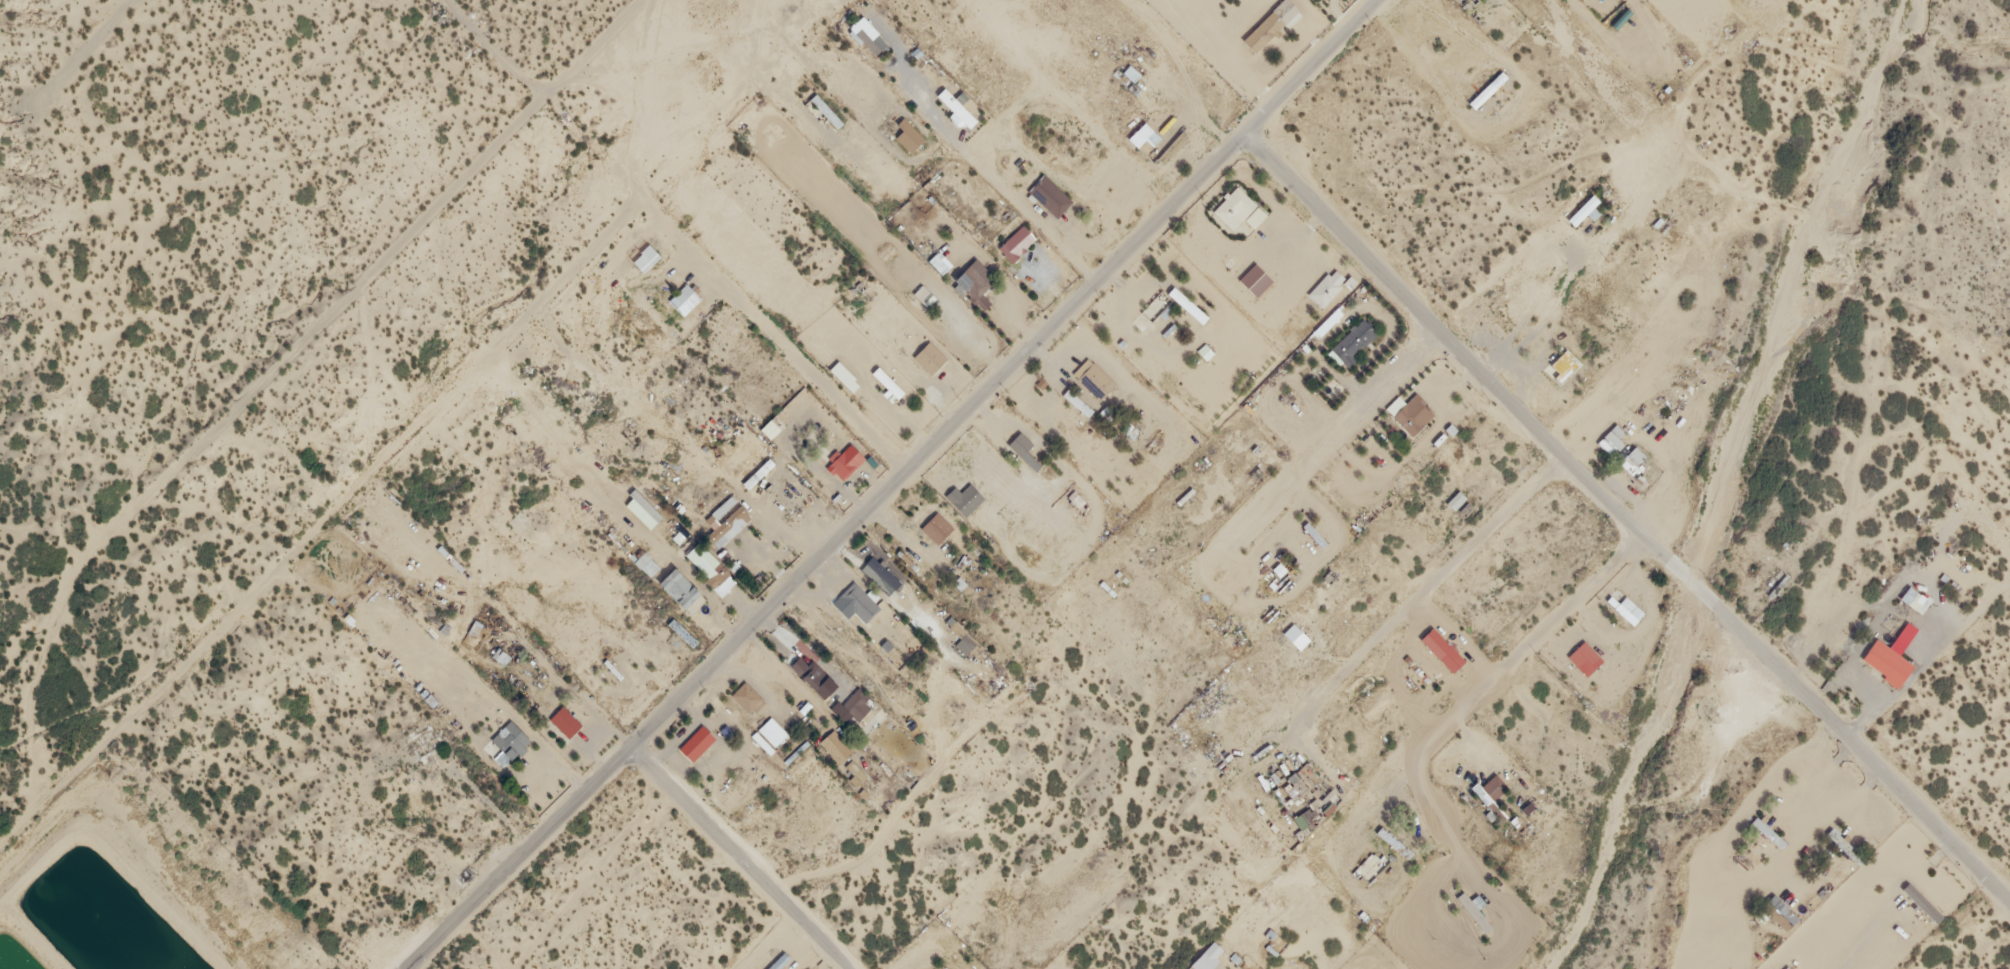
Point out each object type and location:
building: (1270, 24)
building: (1489, 87)
building: (955, 109)
building: (827, 111)
building: (1143, 131)
building: (1042, 184)
building: (1241, 209)
building: (1018, 242)
building: (644, 250)
road: (364, 280)
road: (724, 284)
building: (1330, 284)
building: (686, 296)
building: (926, 313)
building: (1356, 339)
building: (930, 357)
building: (1565, 360)
building: (1083, 403)
building: (1414, 414)
building: (1615, 438)
building: (1633, 458)
road: (1302, 459)
building: (847, 460)
building: (759, 471)
road: (890, 481)
building: (966, 497)
road: (1626, 524)
building: (938, 526)
building: (706, 559)
road: (1435, 581)
building: (1913, 596)
building: (860, 599)
building: (1630, 610)
building: (967, 640)
building: (1586, 655)
building: (1887, 660)
building: (813, 668)
road: (1497, 687)
building: (749, 693)
building: (567, 719)
building: (511, 739)
building: (699, 739)
building: (1768, 832)
building: (1395, 839)
road: (744, 854)
building: (1209, 954)
building: (936, 968)

